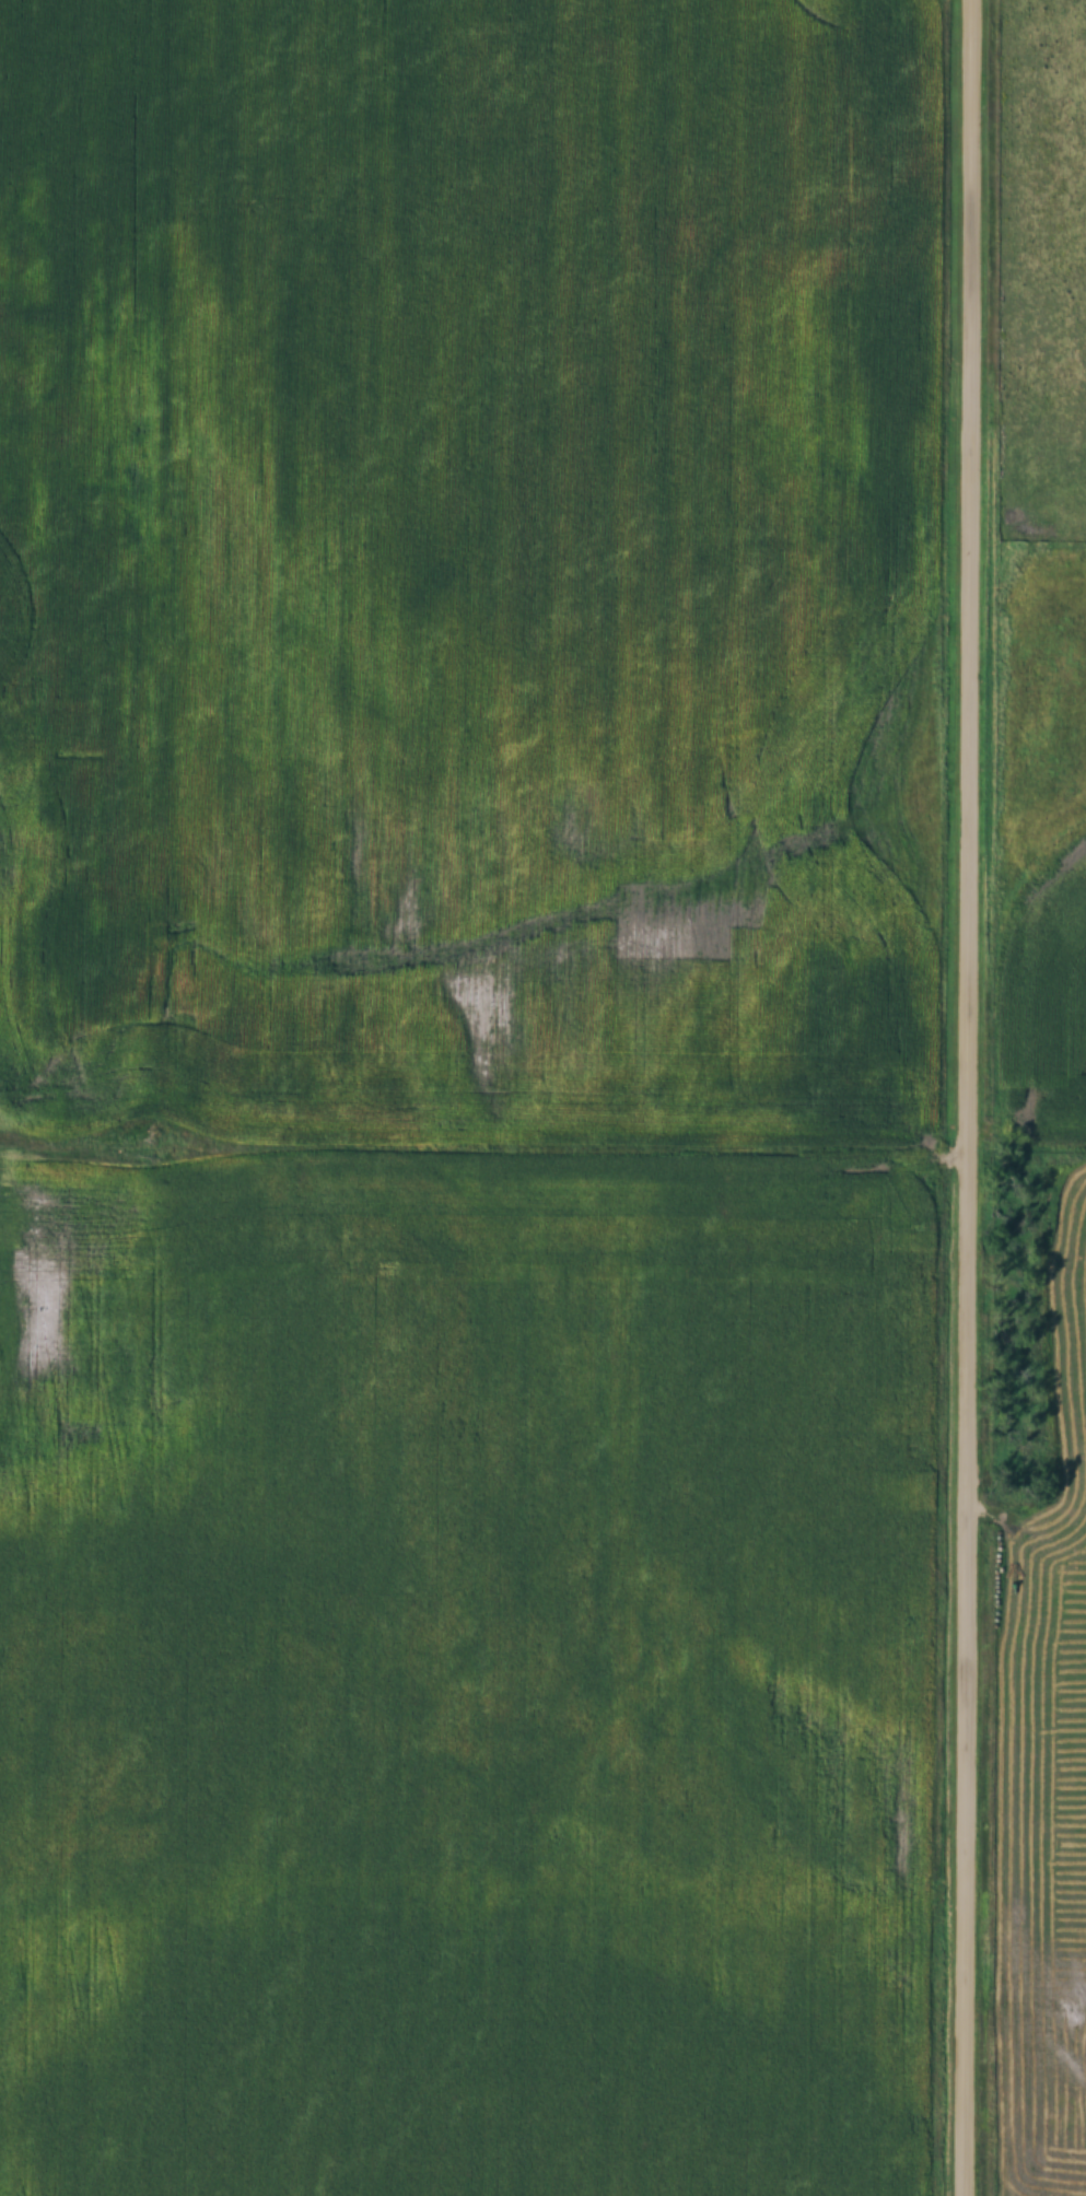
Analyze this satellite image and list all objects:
road: (972, 1098)

